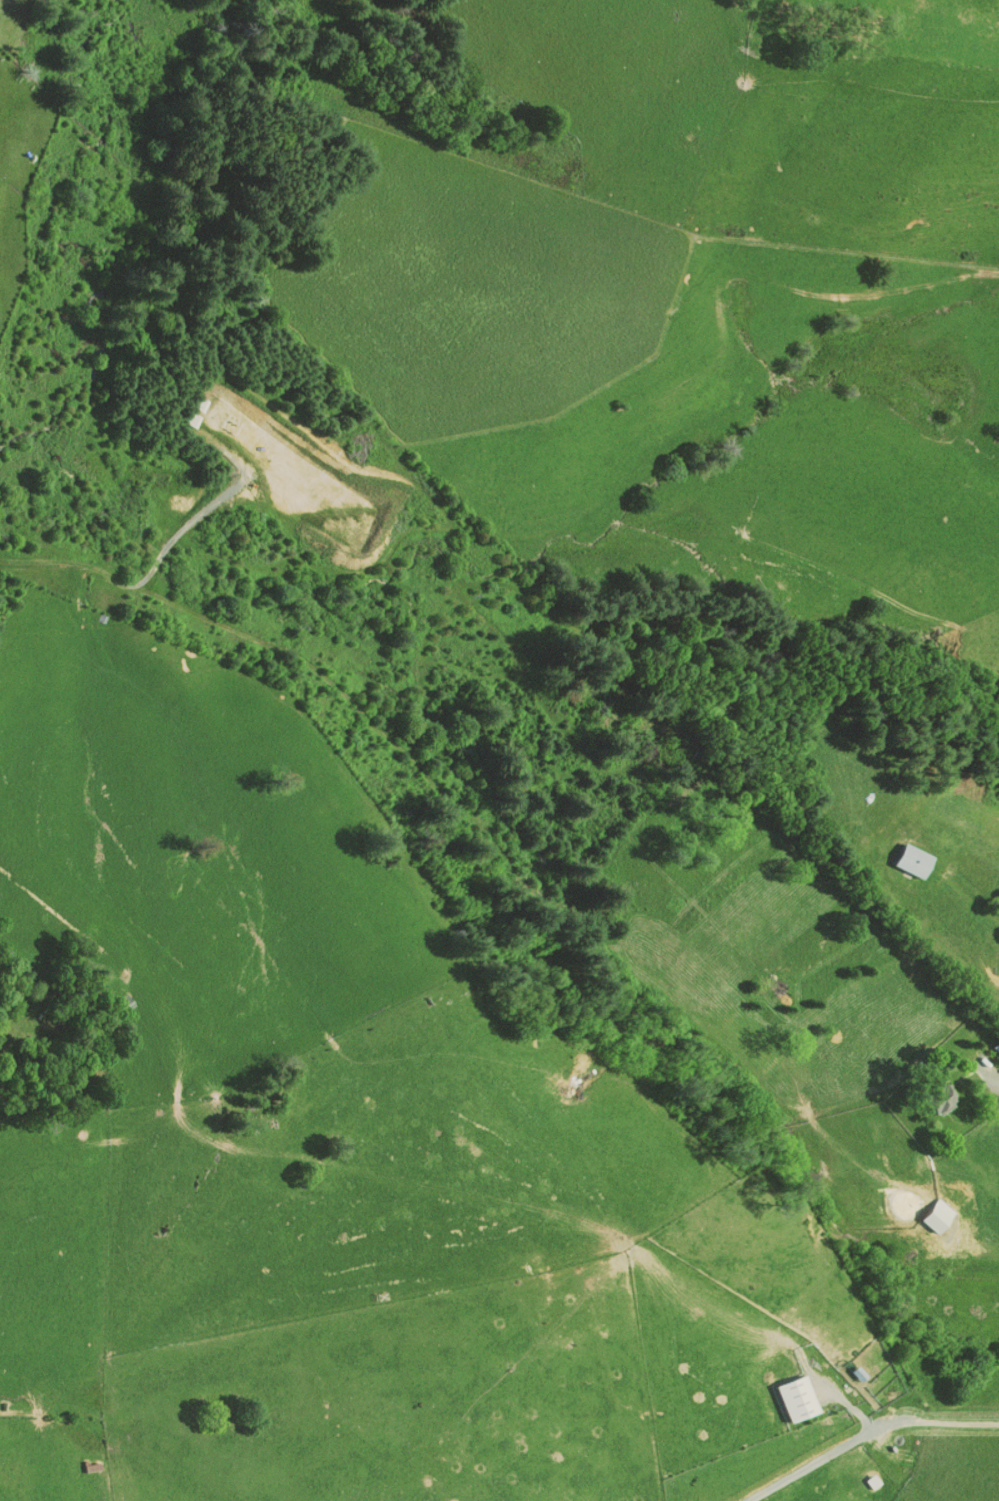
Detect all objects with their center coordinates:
road: (990, 1075)

